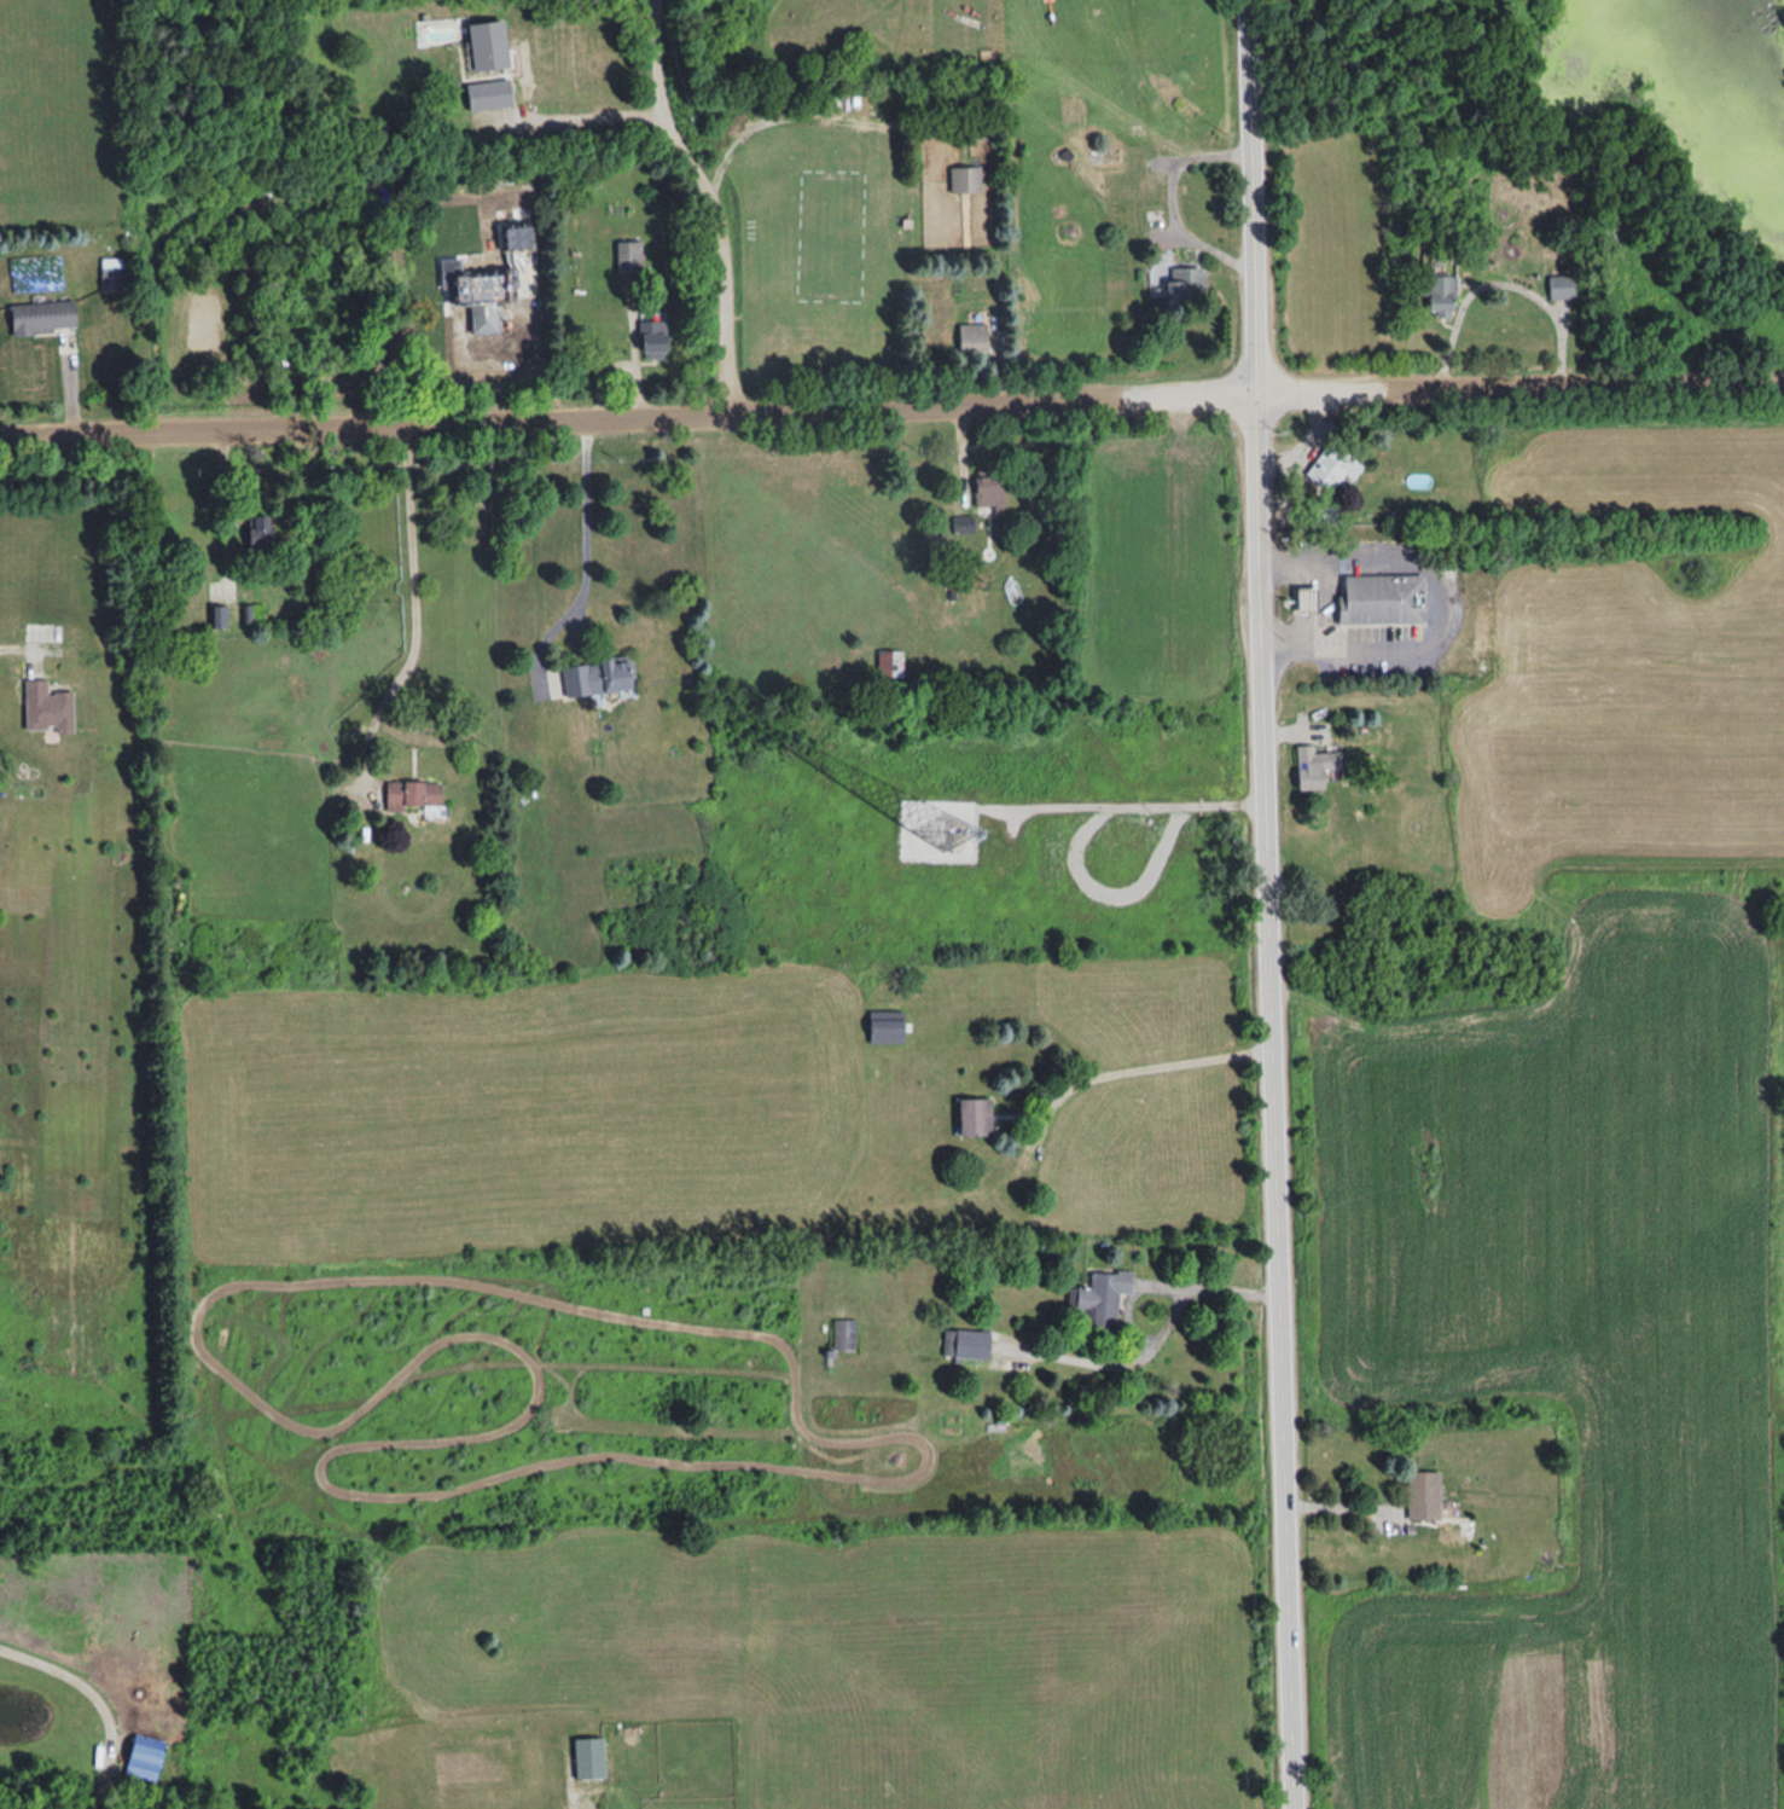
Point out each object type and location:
building: (490, 42)
building: (490, 93)
road: (588, 106)
building: (966, 178)
road: (1173, 198)
road: (708, 202)
building: (519, 236)
building: (629, 255)
building: (112, 277)
building: (1176, 280)
road: (1501, 282)
building: (1562, 285)
building: (483, 286)
building: (1441, 292)
building: (45, 315)
building: (486, 320)
building: (974, 337)
building: (655, 338)
road: (891, 407)
building: (1336, 466)
building: (992, 491)
road: (222, 500)
road: (585, 516)
building: (964, 526)
building: (263, 535)
road: (413, 592)
building: (1382, 597)
building: (1307, 598)
road: (1445, 602)
road: (1327, 605)
building: (217, 616)
road: (11, 648)
building: (890, 662)
building: (599, 676)
building: (48, 706)
building: (1315, 765)
building: (416, 794)
road: (1266, 904)
building: (888, 1028)
road: (1135, 1066)
building: (977, 1115)
road: (1210, 1286)
building: (1102, 1298)
building: (845, 1334)
building: (969, 1344)
building: (1425, 1495)
road: (1340, 1498)
road: (101, 1697)
building: (146, 1757)
building: (591, 1757)

